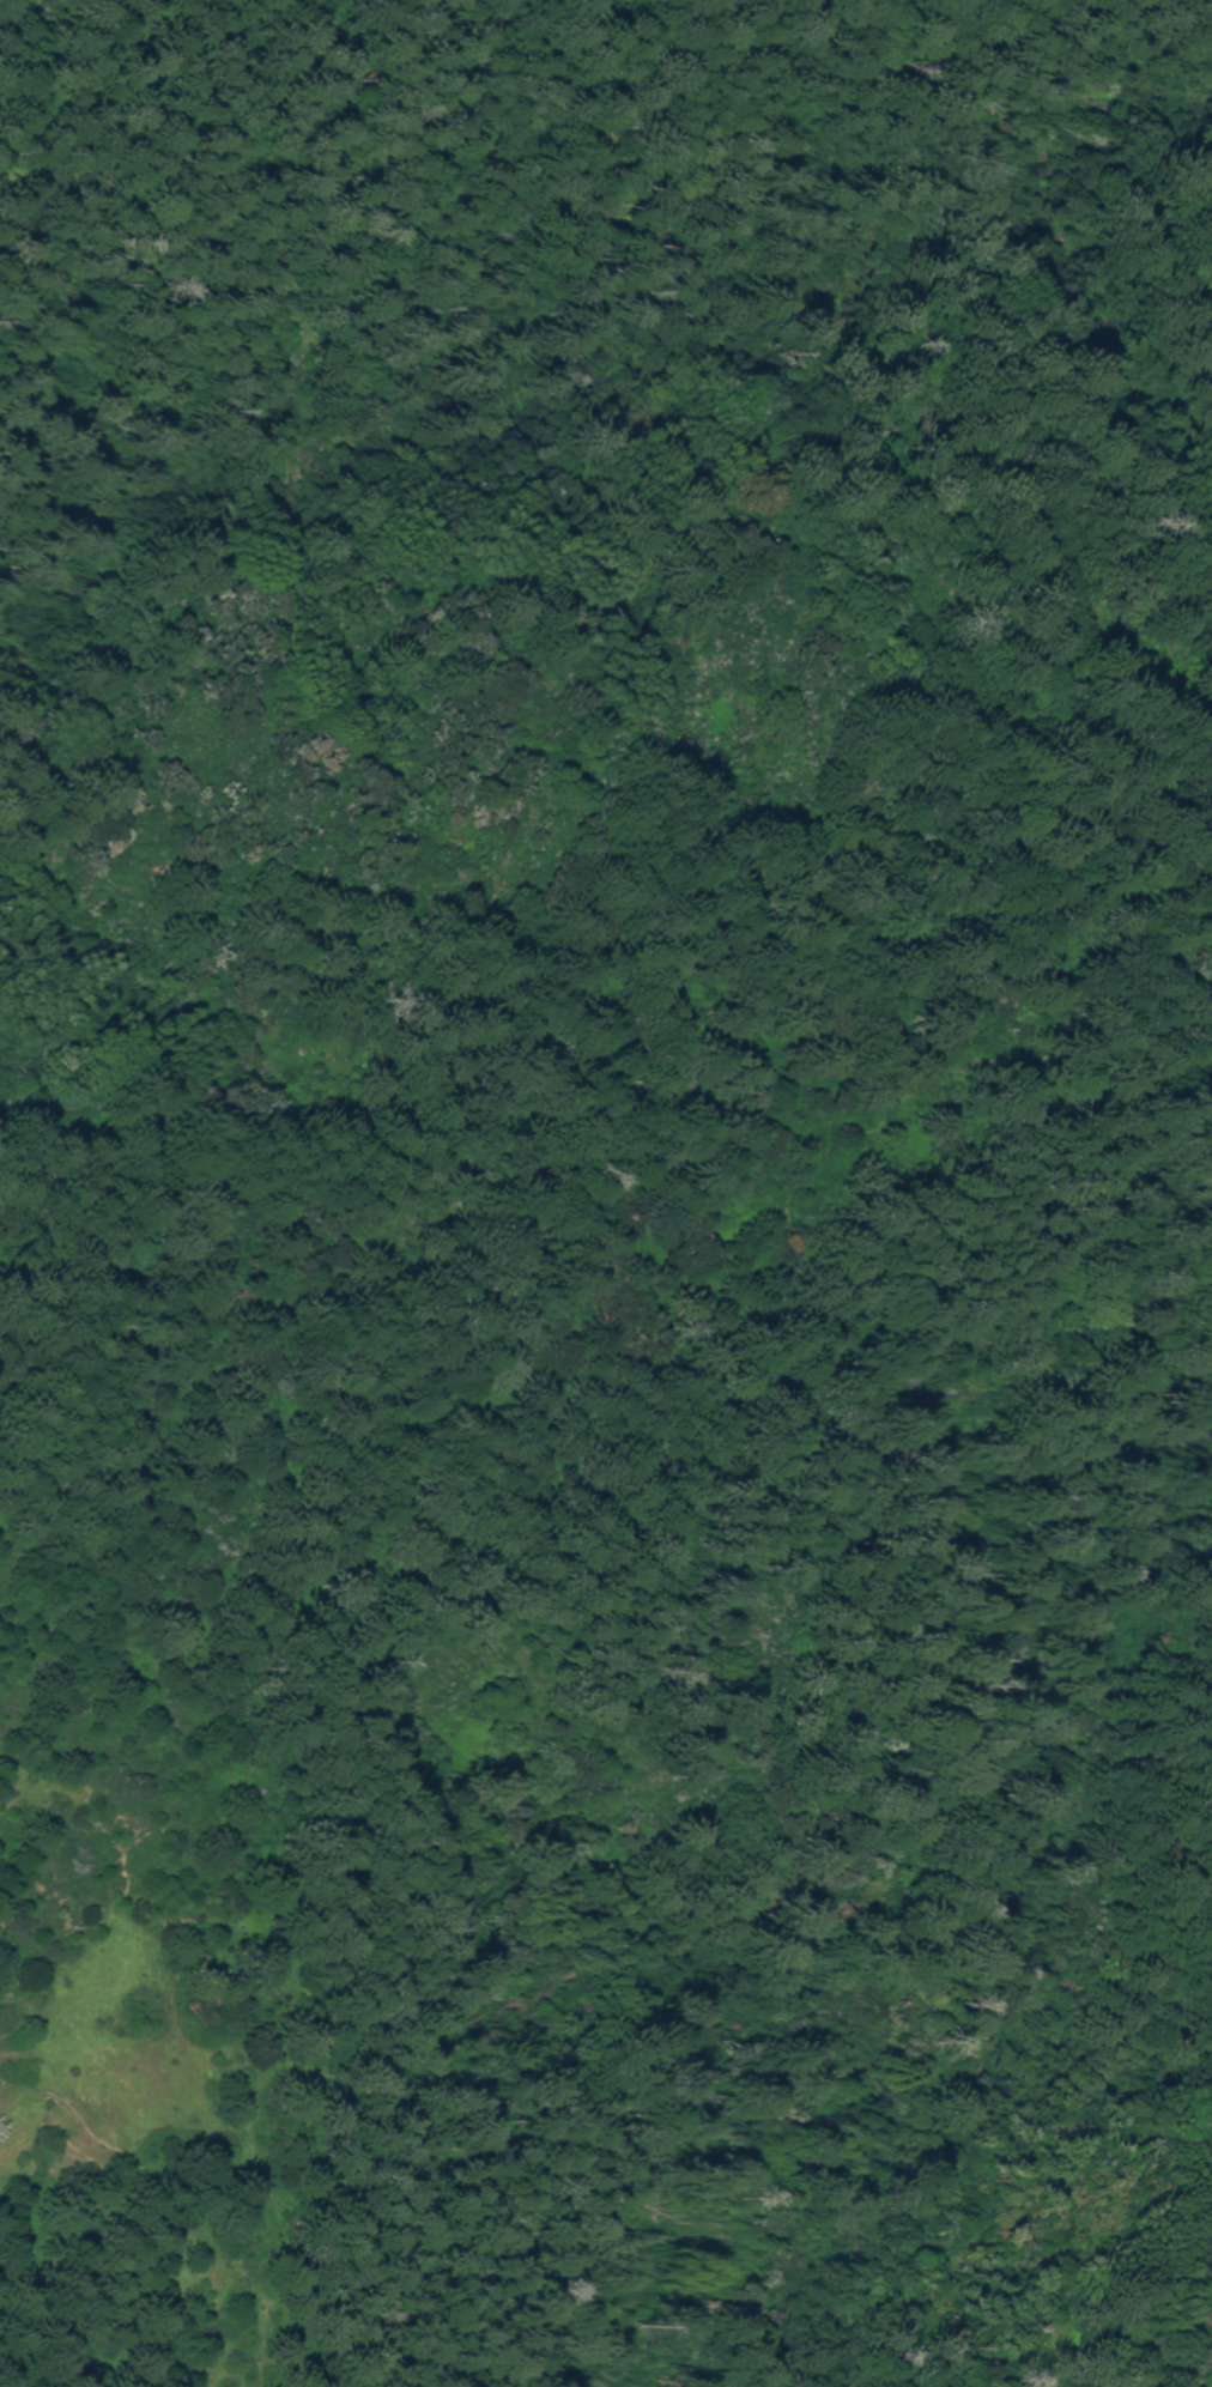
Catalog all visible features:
road: (368, 1431)

